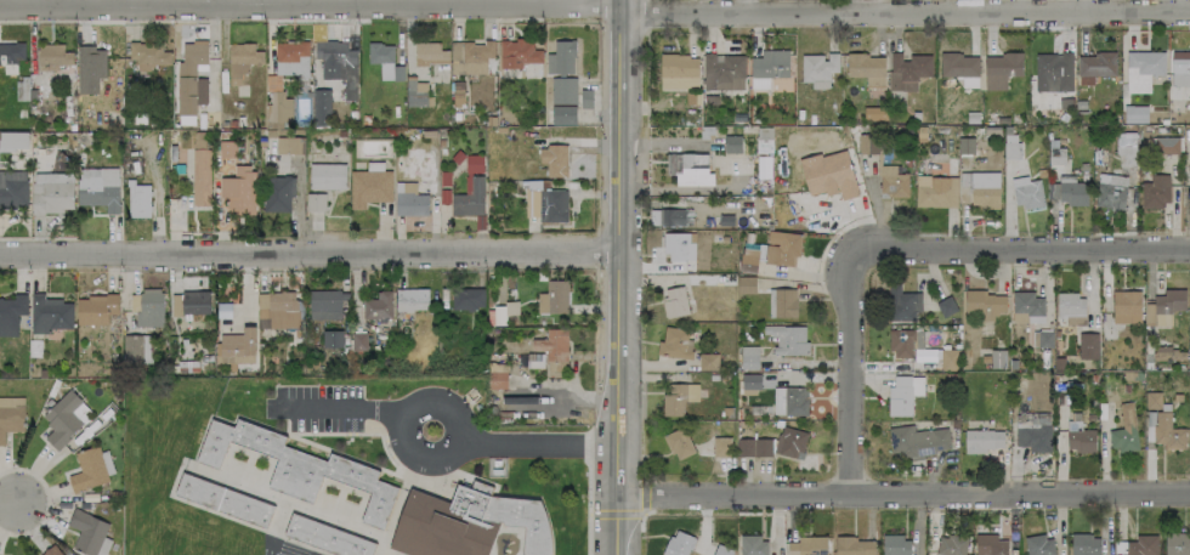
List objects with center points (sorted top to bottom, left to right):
road: (311, 6)
road: (743, 6)
road: (866, 6)
road: (905, 12)
building: (10, 51)
building: (426, 52)
building: (147, 53)
building: (515, 53)
building: (52, 56)
building: (289, 57)
building: (379, 57)
building: (469, 57)
building: (561, 57)
building: (240, 60)
building: (335, 63)
building: (908, 64)
building: (816, 66)
building: (1093, 66)
building: (766, 67)
building: (958, 67)
building: (89, 68)
building: (720, 68)
building: (865, 68)
building: (999, 68)
building: (1179, 68)
building: (1140, 69)
building: (676, 70)
building: (1052, 70)
building: (187, 75)
building: (563, 91)
building: (415, 92)
building: (321, 106)
building: (277, 109)
building: (1134, 114)
building: (563, 115)
building: (764, 140)
building: (13, 141)
building: (867, 143)
building: (289, 145)
building: (1167, 145)
building: (1126, 151)
building: (554, 159)
building: (471, 168)
building: (692, 170)
building: (829, 174)
building: (200, 176)
building: (327, 176)
building: (892, 182)
building: (98, 187)
building: (369, 187)
building: (13, 188)
building: (981, 188)
building: (239, 191)
building: (935, 191)
building: (1110, 191)
building: (1155, 191)
building: (52, 192)
building: (278, 193)
building: (1027, 193)
building: (1070, 193)
building: (138, 199)
building: (409, 199)
building: (469, 199)
building: (314, 202)
building: (534, 203)
building: (552, 205)
road: (310, 243)
building: (675, 247)
building: (782, 248)
road: (897, 250)
building: (749, 256)
road: (618, 277)
building: (746, 284)
building: (552, 296)
building: (410, 299)
building: (466, 299)
building: (674, 301)
building: (189, 302)
building: (782, 302)
building: (325, 304)
building: (901, 304)
building: (982, 304)
building: (378, 306)
building: (945, 306)
building: (149, 307)
building: (1026, 307)
building: (1126, 307)
building: (1163, 307)
building: (96, 308)
building: (1070, 308)
building: (277, 310)
building: (503, 312)
building: (11, 313)
building: (50, 313)
building: (331, 339)
building: (787, 339)
building: (358, 340)
building: (674, 342)
building: (903, 342)
building: (552, 345)
building: (1088, 345)
building: (238, 346)
building: (136, 350)
building: (749, 357)
building: (948, 358)
building: (996, 358)
building: (534, 361)
building: (708, 361)
building: (497, 375)
building: (902, 395)
building: (678, 397)
building: (789, 401)
building: (1152, 401)
parking lot: (322, 407)
road: (346, 407)
road: (412, 409)
building: (11, 415)
building: (64, 418)
building: (1189, 424)
building: (1123, 430)
building: (1163, 430)
building: (1033, 437)
building: (1079, 437)
building: (982, 440)
building: (917, 441)
building: (789, 442)
building: (679, 443)
road: (537, 444)
building: (721, 447)
building: (754, 447)
building: (299, 466)
building: (91, 469)
road: (901, 497)
road: (11, 509)
building: (466, 522)
building: (89, 533)
building: (327, 537)
building: (678, 543)
building: (1084, 544)
building: (1177, 544)
building: (753, 545)
building: (806, 545)
building: (854, 545)
building: (895, 545)
building: (950, 545)
building: (990, 545)
building: (1038, 545)
building: (1141, 545)
building: (721, 550)
building: (51, 551)

